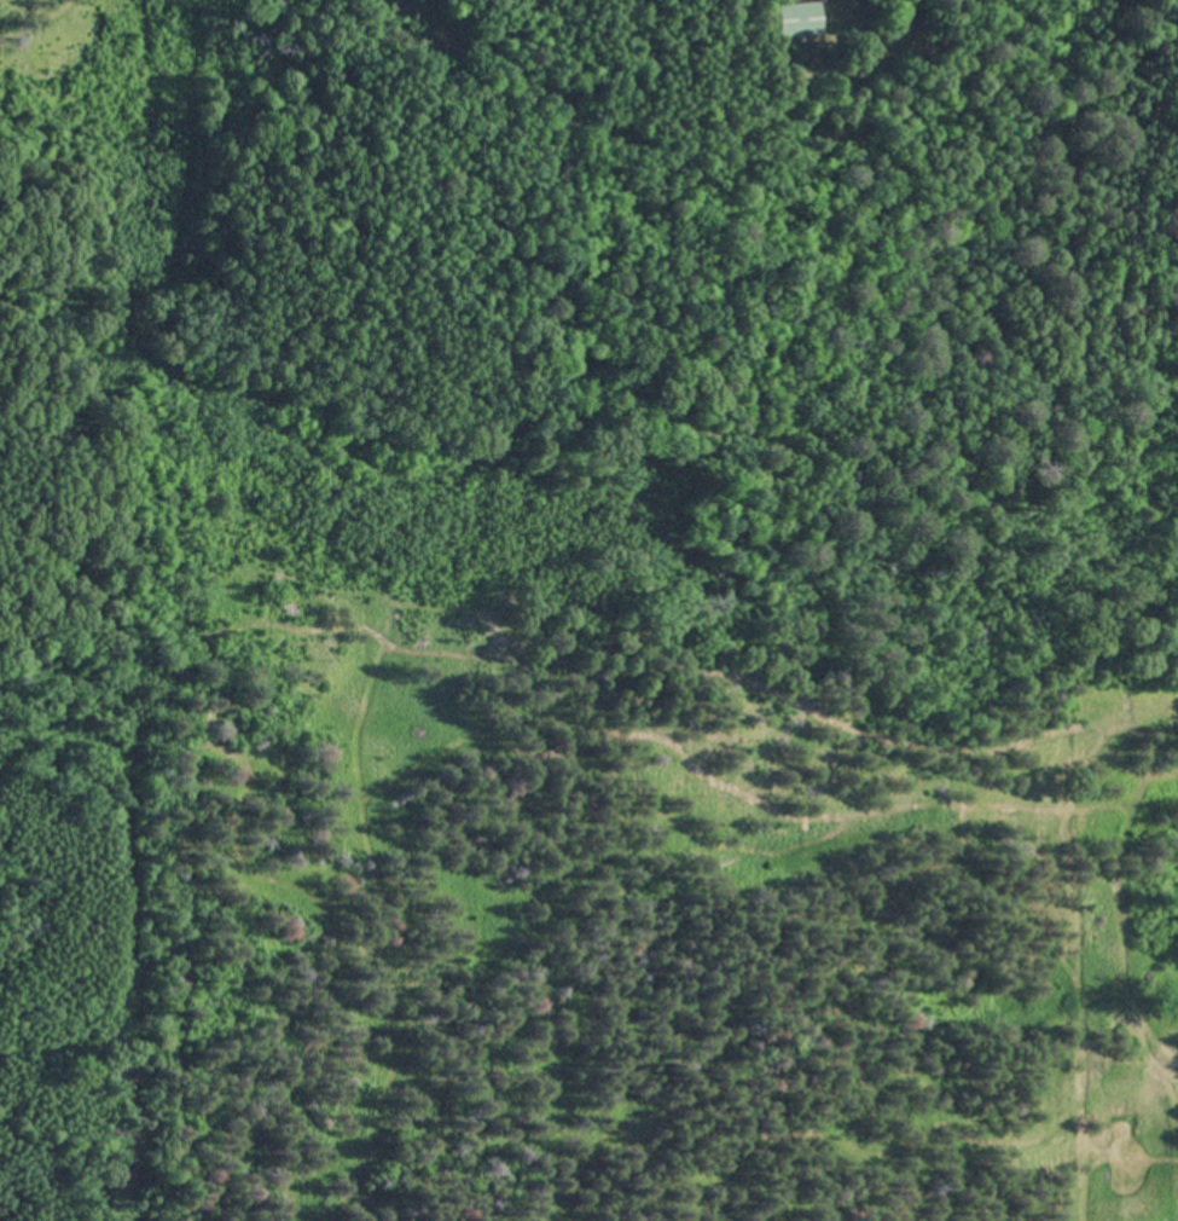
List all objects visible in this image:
building: (800, 21)

